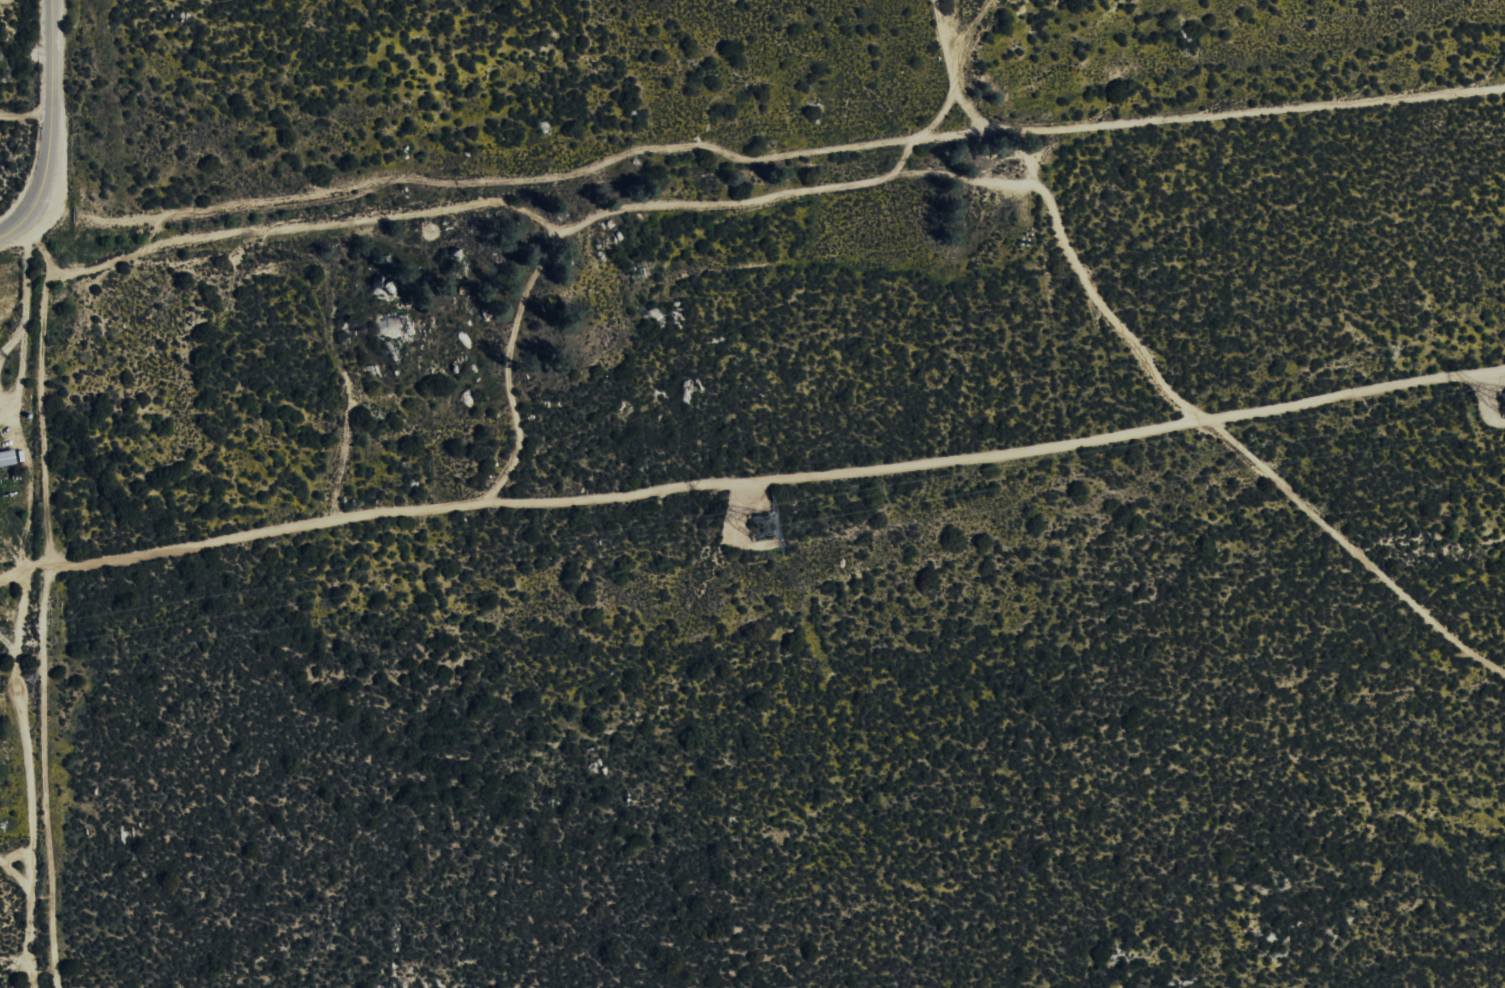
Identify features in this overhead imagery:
road: (1209, 118)
road: (50, 134)
road: (891, 149)
power tower: (1503, 404)
building: (8, 458)
power tower: (753, 523)

